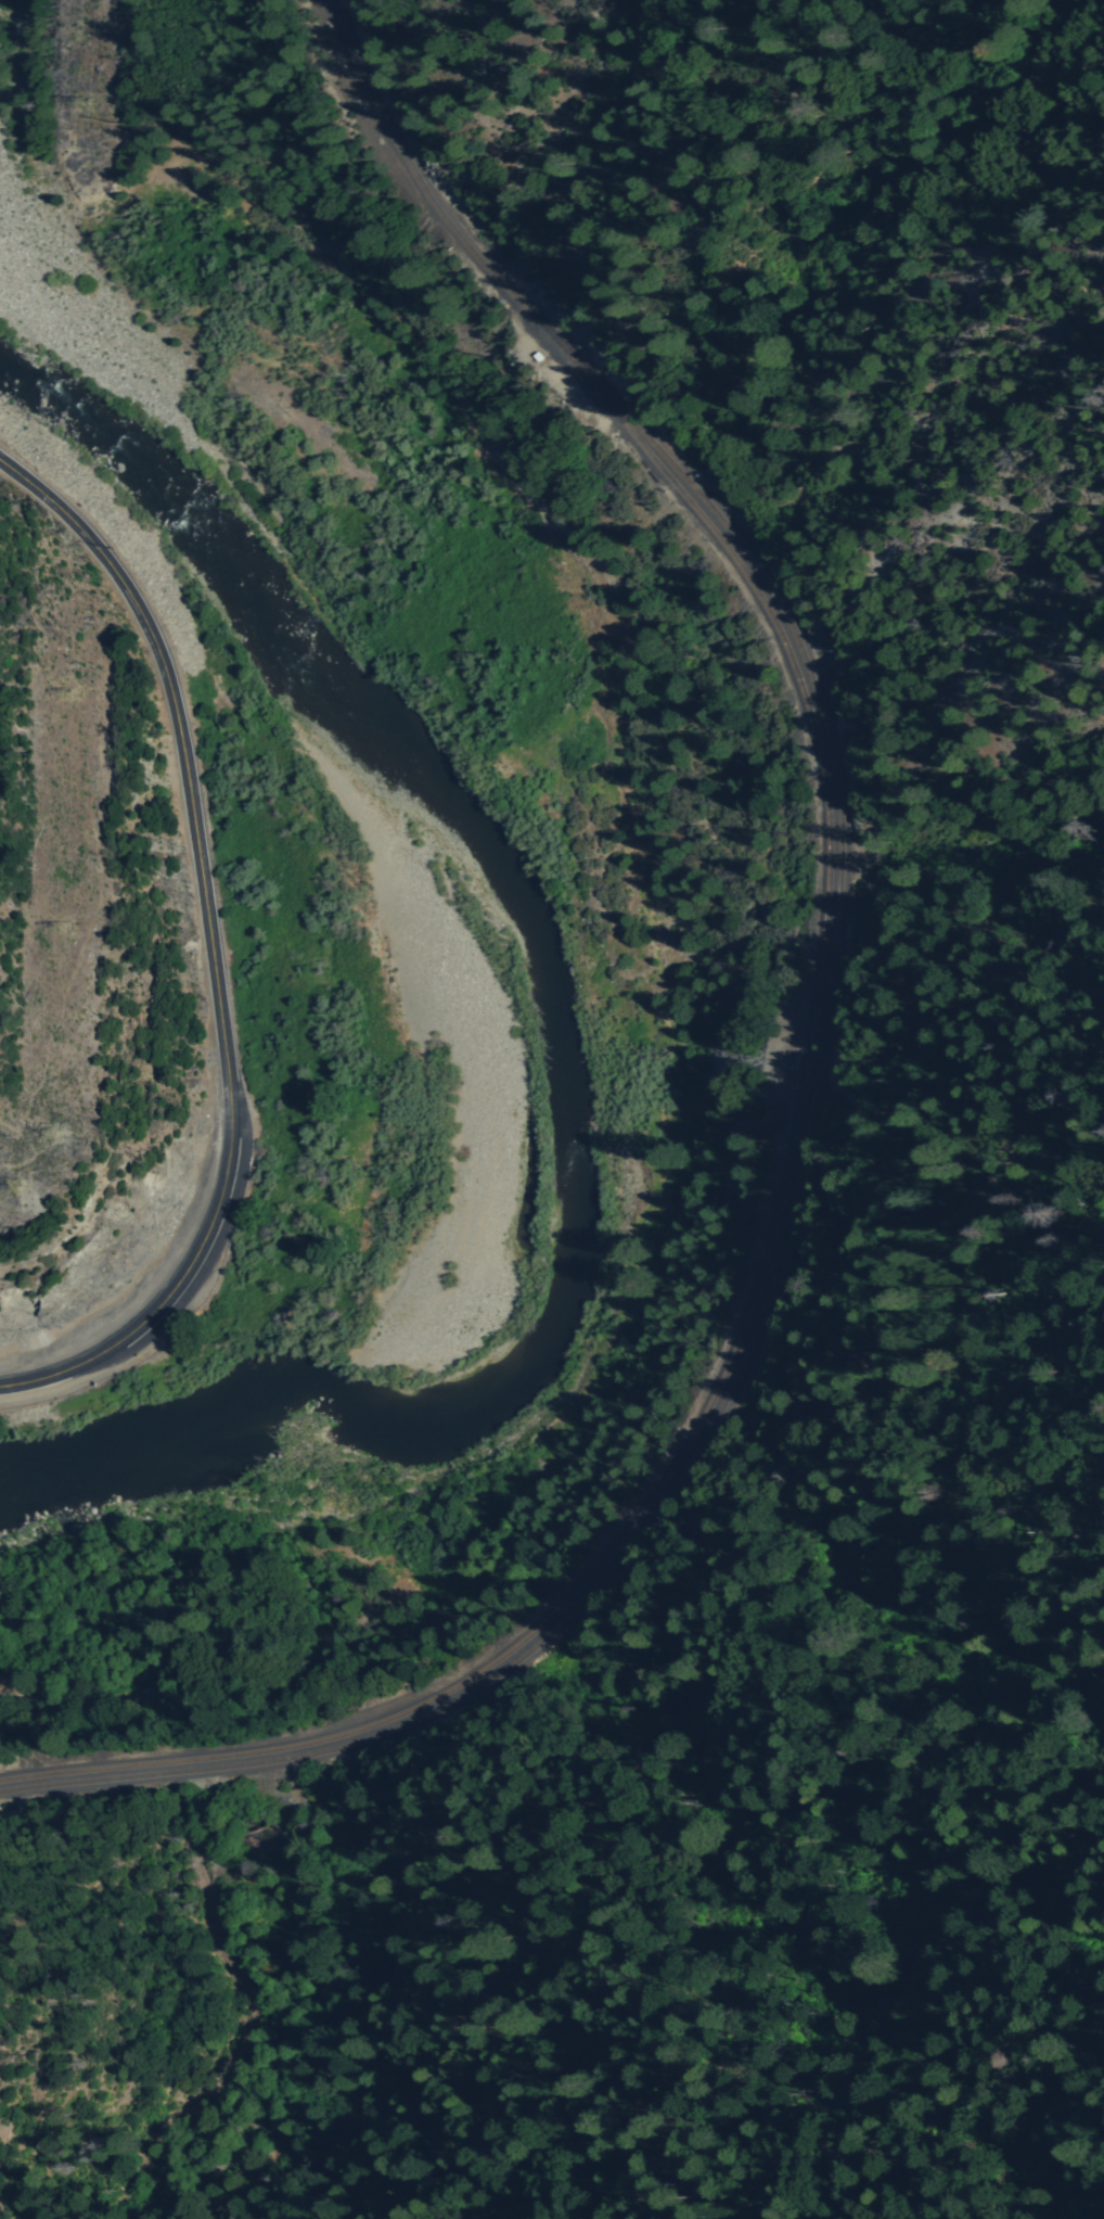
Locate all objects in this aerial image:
railway: (437, 206)
river: (180, 508)
power tower: (81, 939)
road: (214, 949)
river: (562, 1030)
power tower: (62, 1132)
railway: (758, 1284)
railway: (770, 1290)
river: (334, 1388)
river: (174, 1441)
river: (63, 1475)

